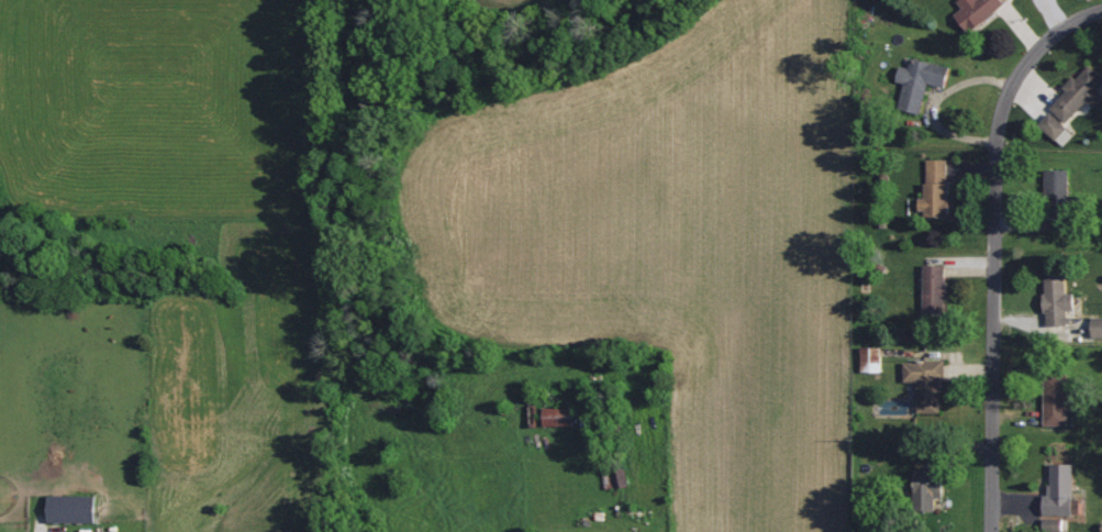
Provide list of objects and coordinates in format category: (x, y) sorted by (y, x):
building: (977, 12)
building: (920, 84)
building: (1079, 96)
building: (1057, 131)
building: (1058, 185)
building: (937, 190)
road: (994, 247)
building: (935, 292)
building: (1058, 301)
building: (1097, 328)
building: (871, 359)
building: (926, 384)
building: (1056, 400)
building: (558, 417)
building: (620, 478)
building: (928, 488)
building: (1061, 491)
building: (71, 509)
building: (1054, 525)

